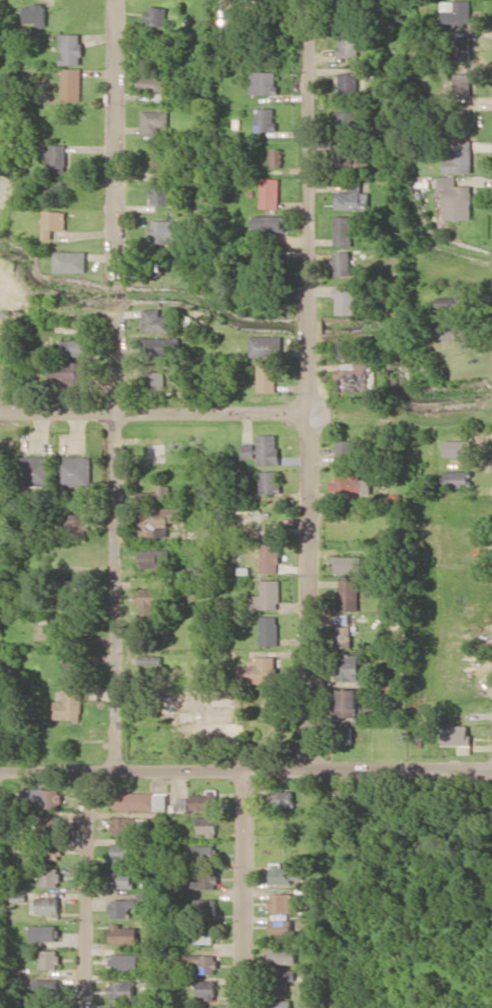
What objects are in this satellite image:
building: (457, 11)
building: (35, 14)
building: (156, 15)
building: (233, 19)
building: (348, 43)
building: (462, 47)
building: (70, 48)
building: (348, 81)
building: (263, 82)
building: (71, 84)
building: (151, 84)
building: (462, 84)
building: (265, 119)
building: (462, 119)
building: (154, 121)
building: (276, 157)
building: (459, 157)
building: (54, 158)
building: (350, 161)
building: (354, 185)
building: (56, 188)
building: (160, 192)
building: (269, 193)
building: (455, 197)
building: (351, 200)
building: (52, 222)
building: (269, 223)
building: (342, 230)
building: (167, 231)
building: (70, 261)
building: (160, 262)
building: (342, 263)
building: (260, 271)
building: (5, 272)
building: (344, 300)
building: (455, 300)
building: (154, 320)
building: (455, 330)
building: (264, 345)
building: (159, 346)
building: (75, 347)
building: (346, 349)
building: (69, 372)
building: (266, 376)
building: (356, 378)
building: (154, 380)
road: (114, 385)
road: (306, 385)
road: (246, 413)
building: (455, 448)
building: (262, 449)
building: (348, 452)
building: (36, 470)
building: (74, 470)
building: (457, 478)
building: (267, 481)
building: (350, 483)
building: (154, 493)
building: (159, 519)
building: (77, 525)
building: (269, 557)
building: (154, 558)
building: (347, 564)
building: (69, 591)
building: (348, 594)
building: (268, 595)
building: (153, 598)
building: (342, 620)
building: (69, 628)
building: (269, 630)
building: (342, 636)
building: (347, 666)
building: (73, 668)
building: (259, 670)
building: (346, 702)
building: (69, 705)
building: (197, 709)
building: (344, 734)
building: (456, 734)
road: (245, 771)
building: (40, 797)
building: (284, 798)
building: (140, 800)
building: (205, 800)
building: (50, 819)
building: (124, 825)
building: (208, 826)
building: (122, 852)
building: (205, 852)
building: (285, 873)
building: (50, 877)
building: (123, 879)
building: (208, 879)
road: (87, 889)
road: (244, 889)
building: (281, 902)
building: (46, 905)
building: (123, 906)
building: (207, 909)
building: (282, 927)
building: (45, 932)
building: (204, 933)
building: (125, 934)
building: (283, 953)
building: (49, 959)
building: (125, 961)
building: (205, 962)
building: (283, 977)
building: (41, 987)
building: (208, 988)
building: (122, 989)
building: (283, 1003)
building: (36, 1007)

